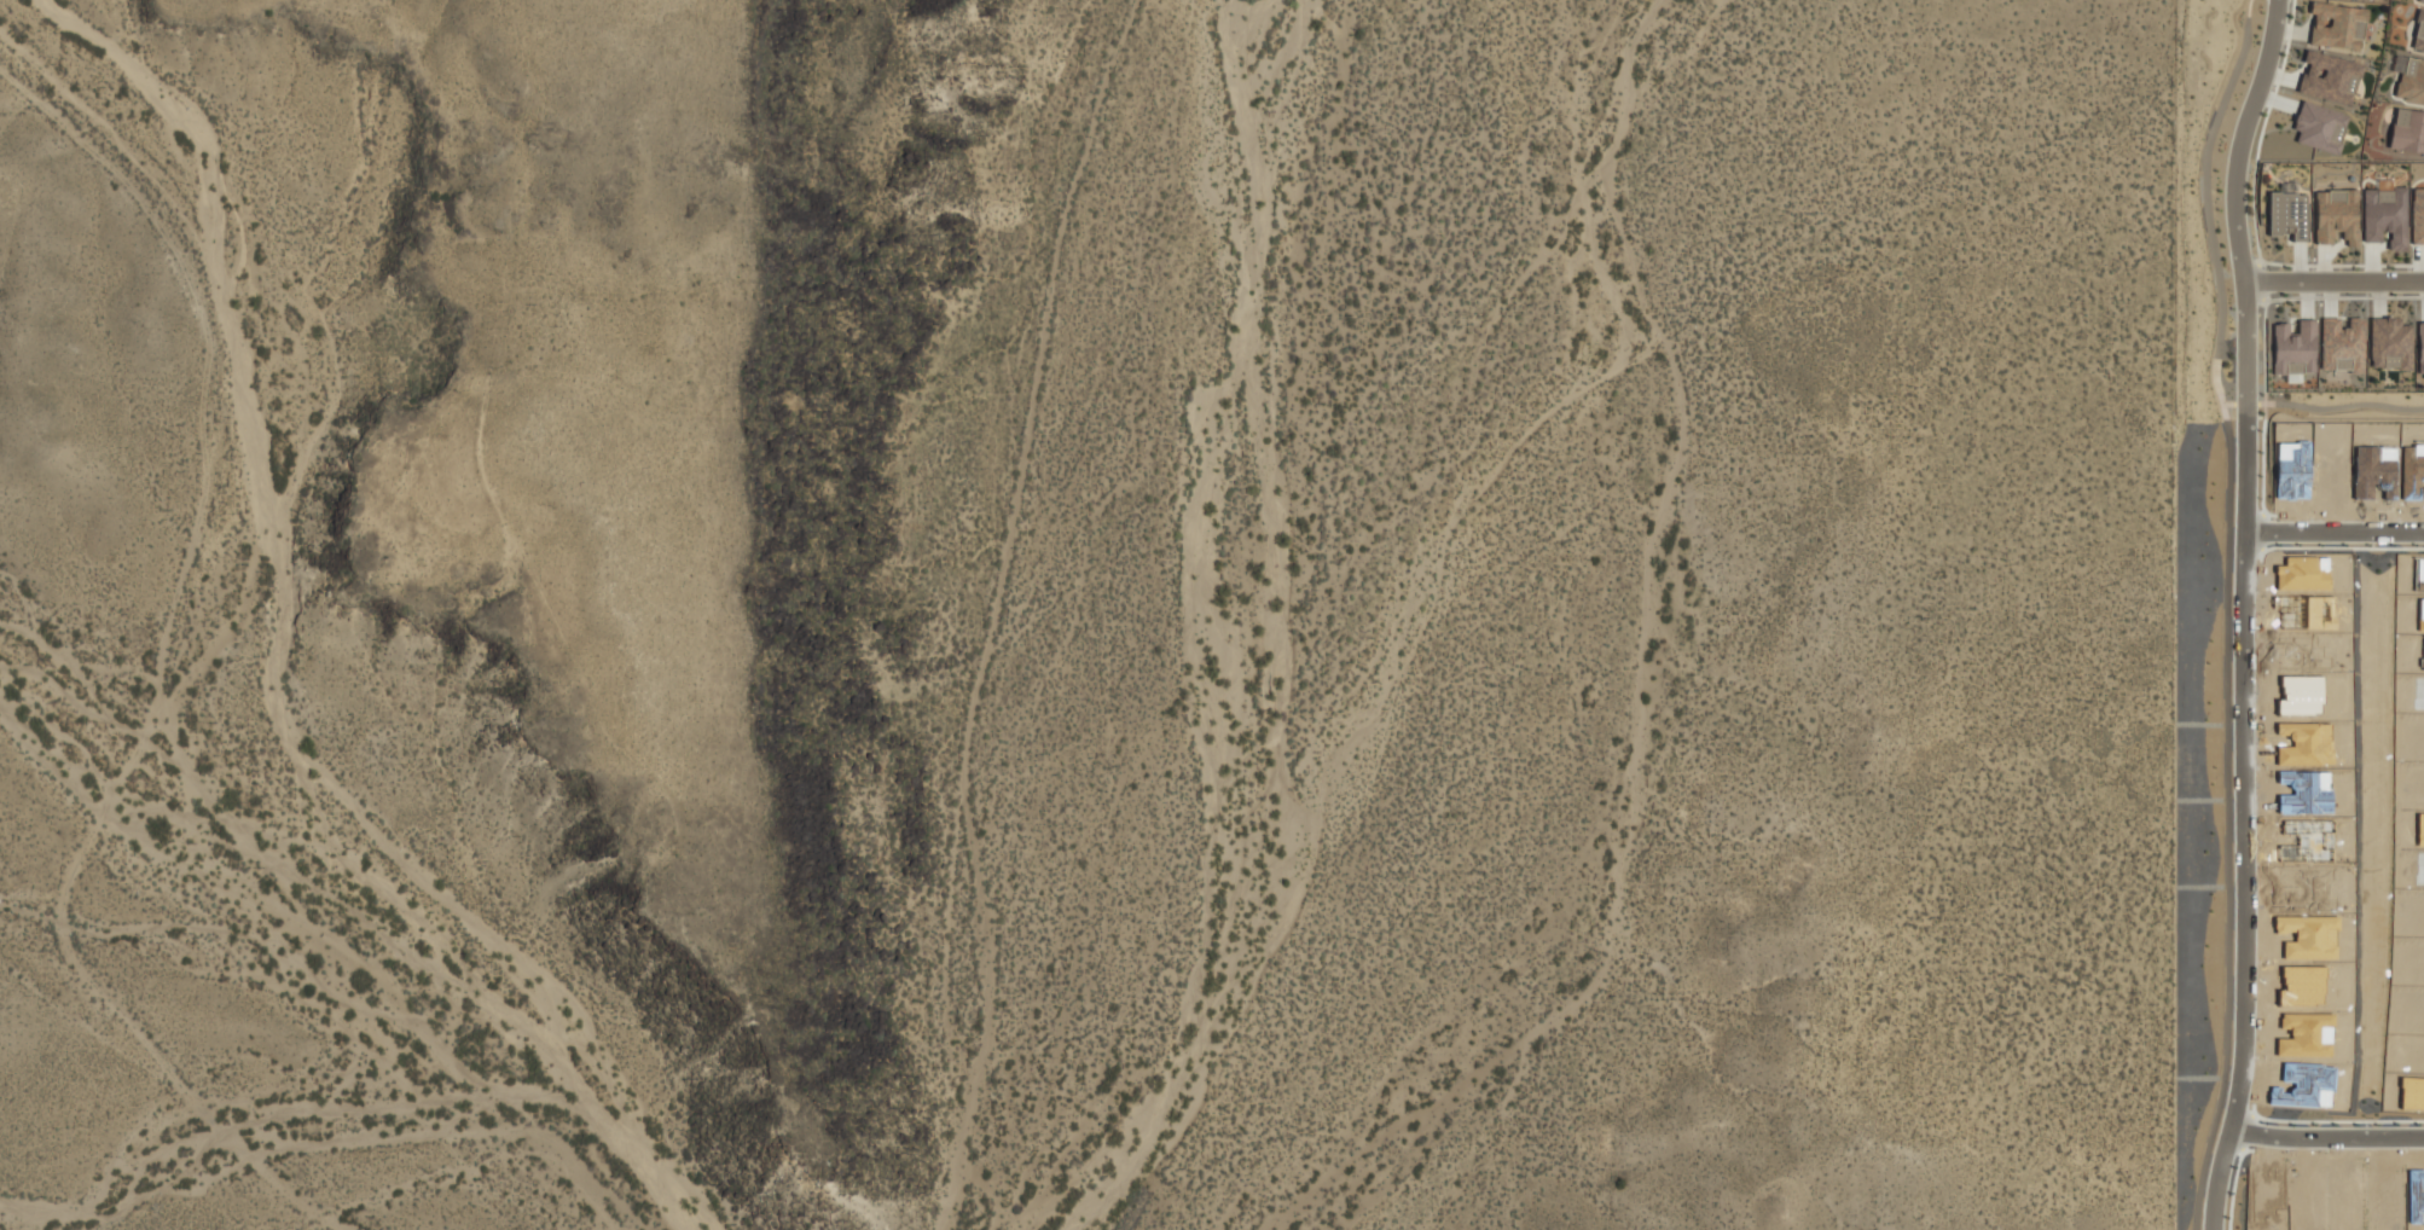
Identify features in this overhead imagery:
building: (2422, 1)
building: (2411, 69)
building: (2330, 75)
building: (2320, 127)
building: (2407, 130)
building: (2287, 213)
building: (2336, 216)
building: (2417, 216)
road: (2335, 283)
building: (2390, 343)
building: (2342, 344)
building: (2420, 347)
building: (2295, 348)
road: (2343, 533)
road: (2263, 613)
road: (2336, 1132)

